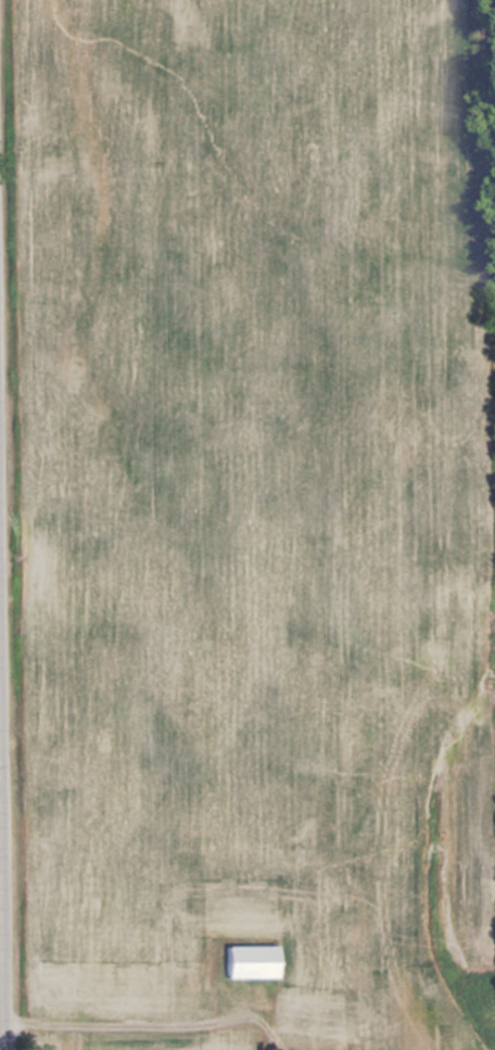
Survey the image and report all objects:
building: (253, 960)
road: (0, 1014)

